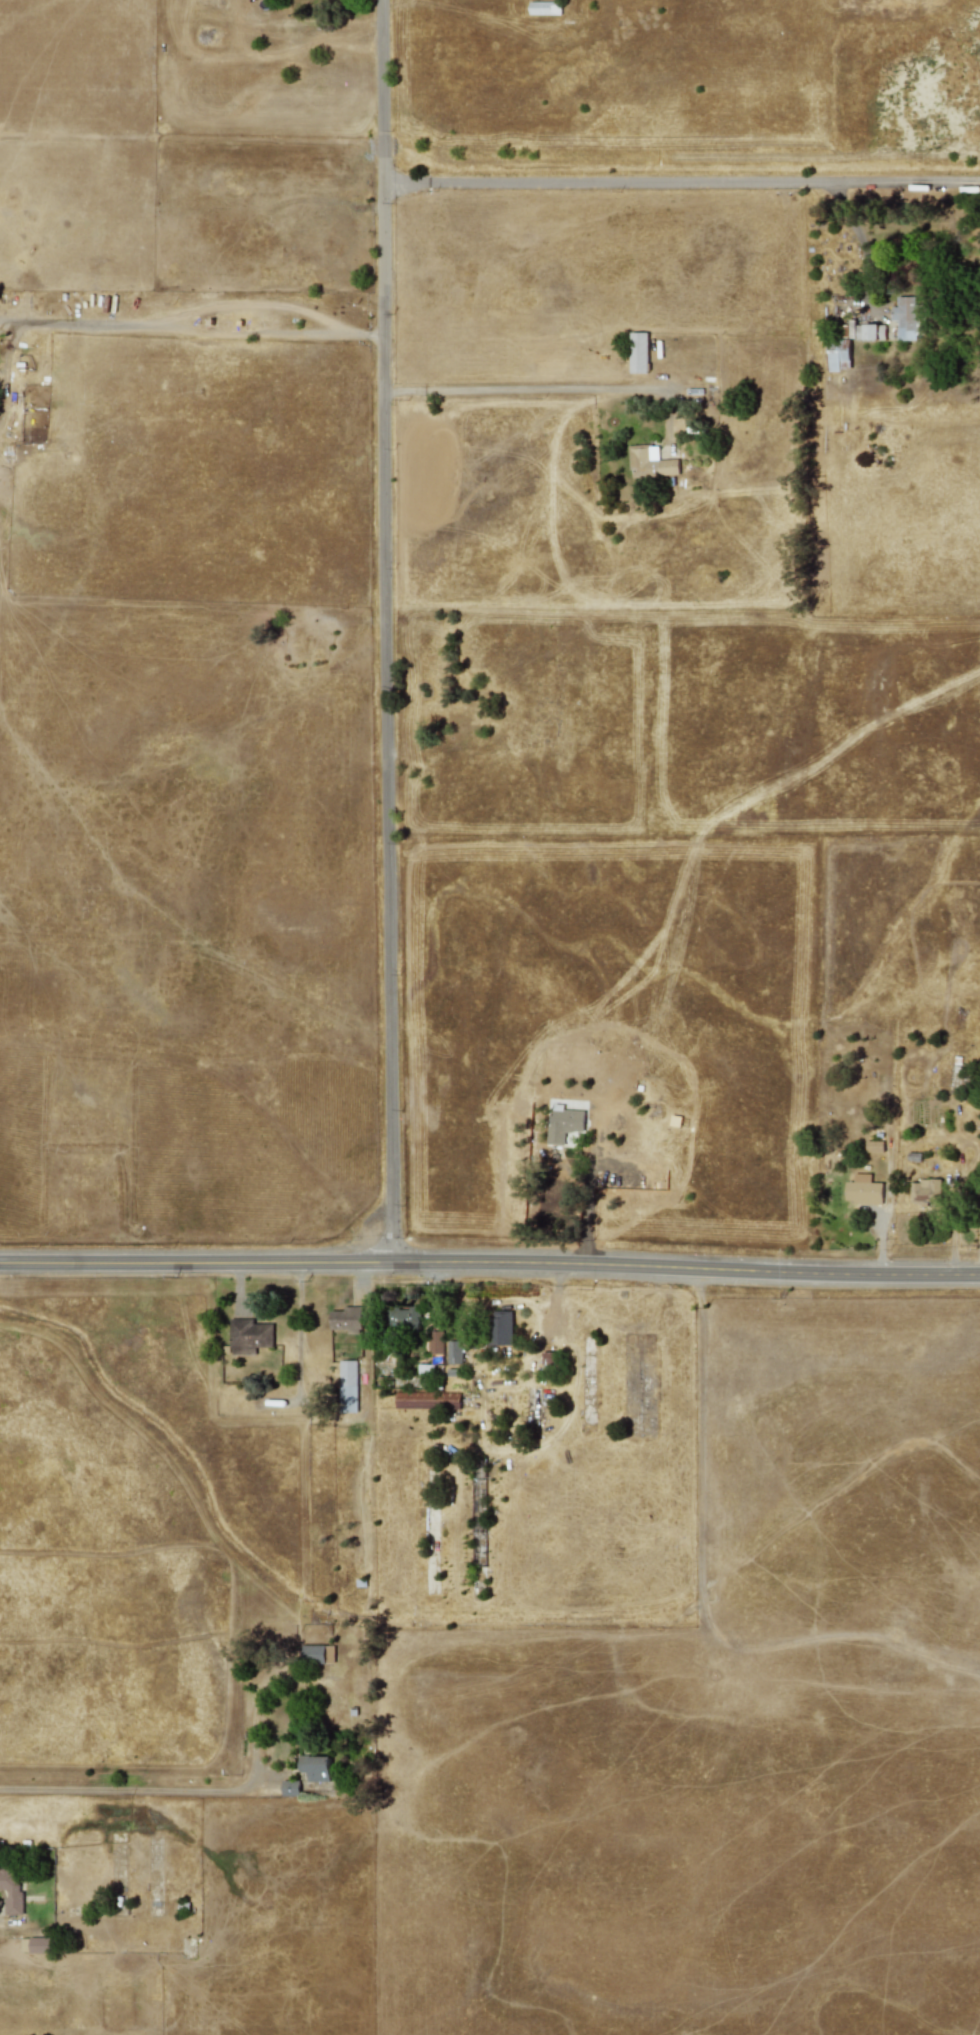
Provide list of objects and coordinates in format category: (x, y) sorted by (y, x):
building: (544, 8)
road: (681, 183)
road: (863, 248)
building: (904, 318)
road: (192, 327)
building: (867, 332)
building: (638, 352)
building: (838, 357)
road: (521, 389)
building: (650, 463)
road: (386, 631)
building: (563, 1123)
building: (873, 1146)
building: (863, 1191)
building: (923, 1191)
road: (586, 1203)
road: (489, 1264)
building: (402, 1317)
building: (346, 1319)
building: (501, 1327)
building: (248, 1336)
building: (435, 1342)
building: (454, 1352)
building: (548, 1359)
building: (347, 1386)
building: (426, 1400)
road: (335, 1417)
building: (317, 1654)
building: (315, 1768)
building: (289, 1788)
road: (132, 1790)
building: (11, 1891)
building: (35, 1945)

